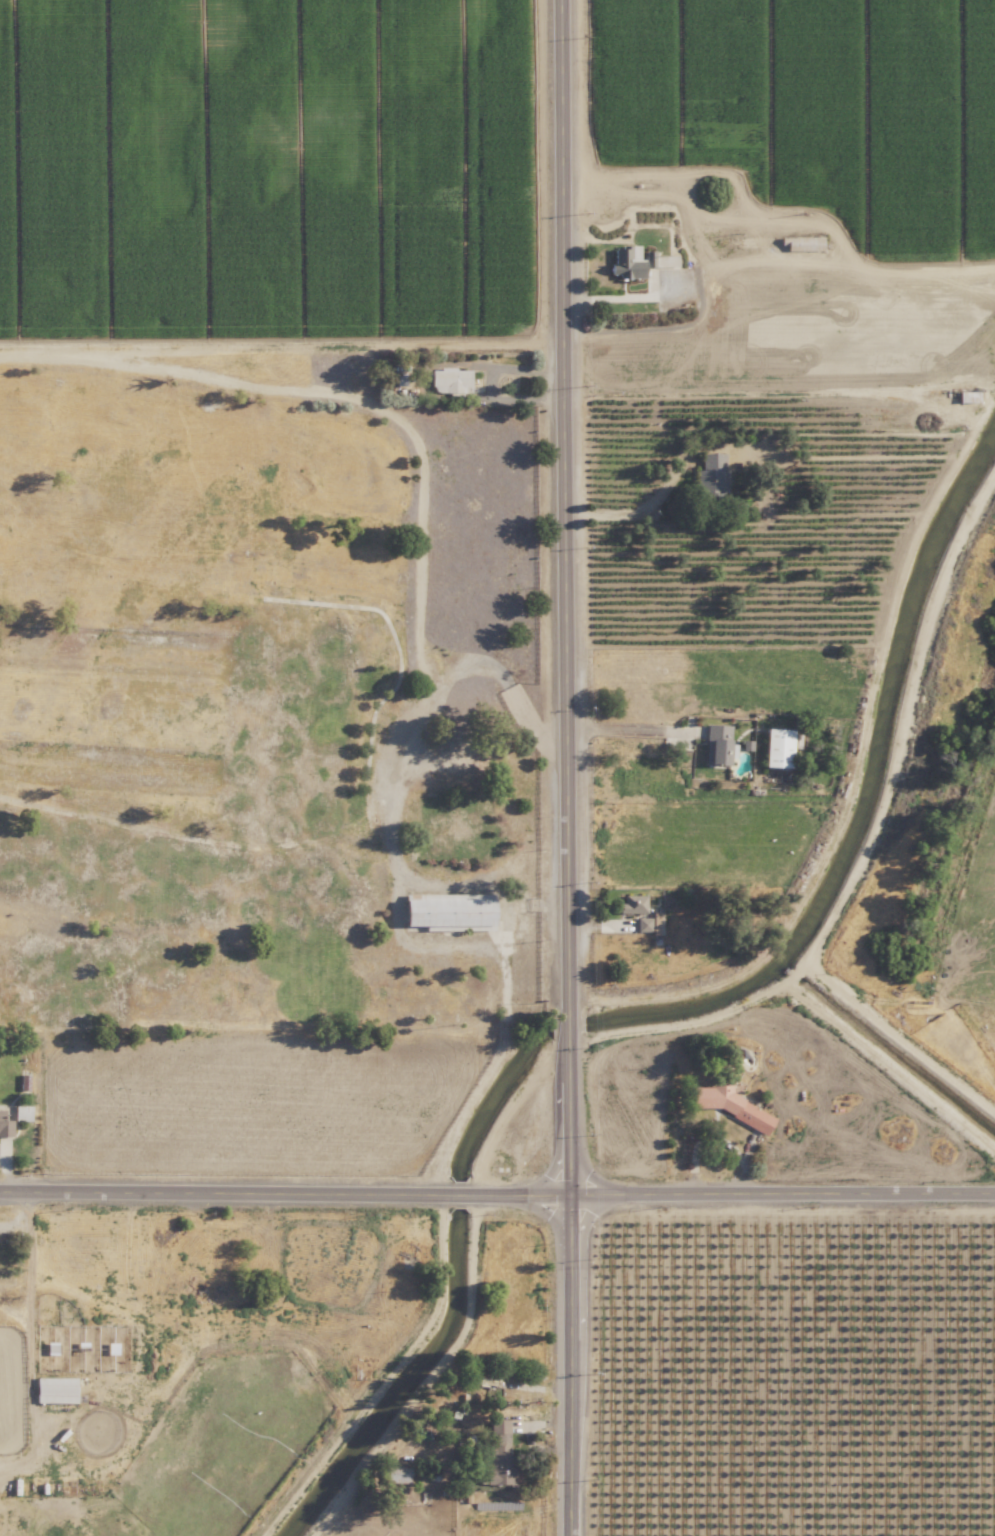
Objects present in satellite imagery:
building: (637, 261)
road: (649, 328)
building: (450, 380)
building: (711, 473)
road: (564, 499)
road: (633, 506)
building: (718, 744)
building: (777, 747)
building: (632, 904)
building: (650, 923)
road: (567, 1018)
building: (731, 1106)
building: (22, 1113)
road: (567, 1115)
building: (5, 1125)
road: (284, 1192)
road: (782, 1192)
road: (569, 1364)
building: (498, 1453)

